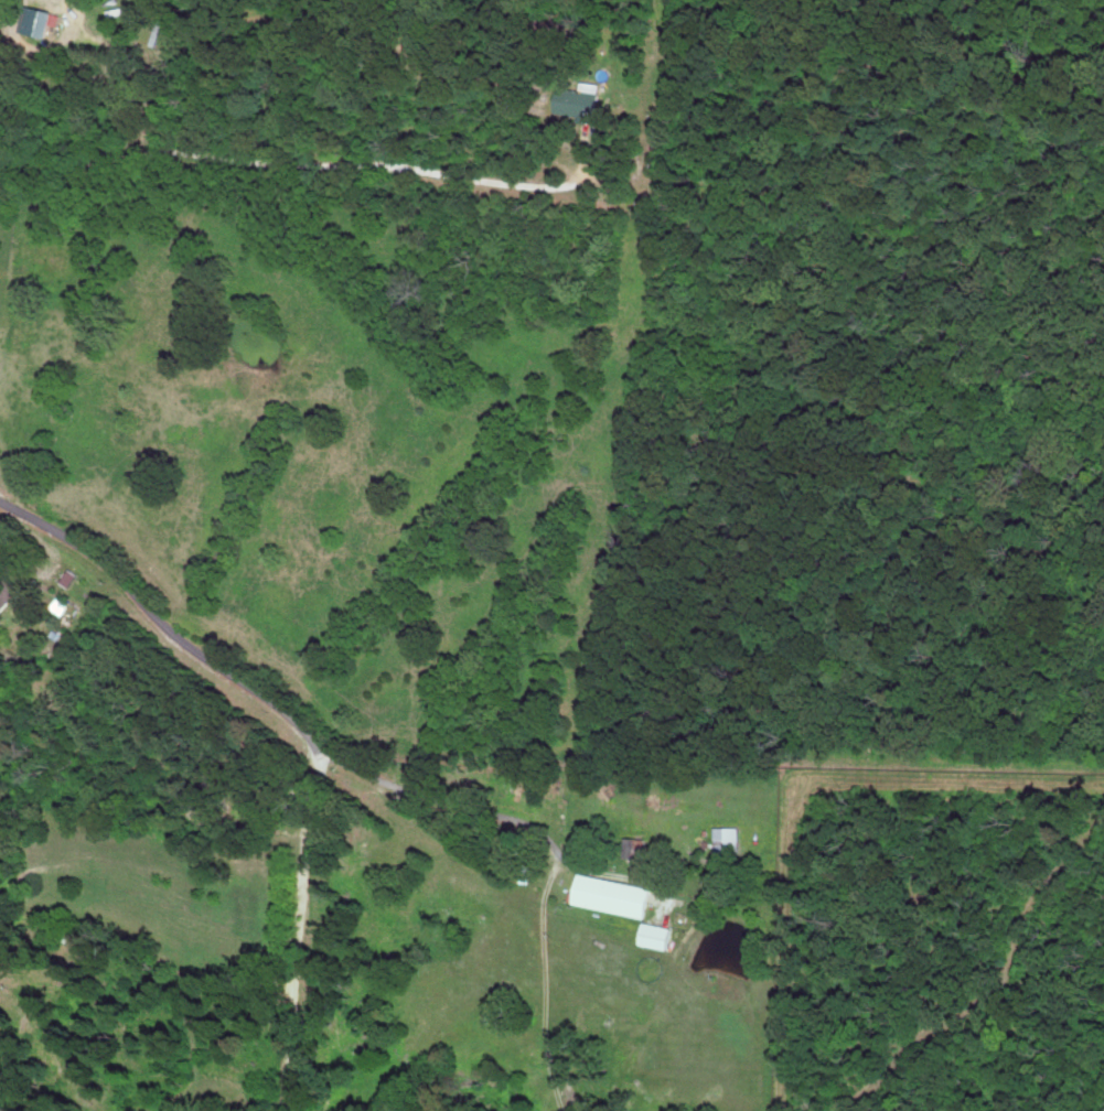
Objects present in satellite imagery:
building: (41, 19)
building: (580, 99)
road: (321, 158)
building: (11, 592)
road: (151, 622)
building: (727, 841)
road: (505, 859)
building: (613, 894)
road: (159, 903)
road: (299, 919)
building: (656, 934)
road: (543, 988)

